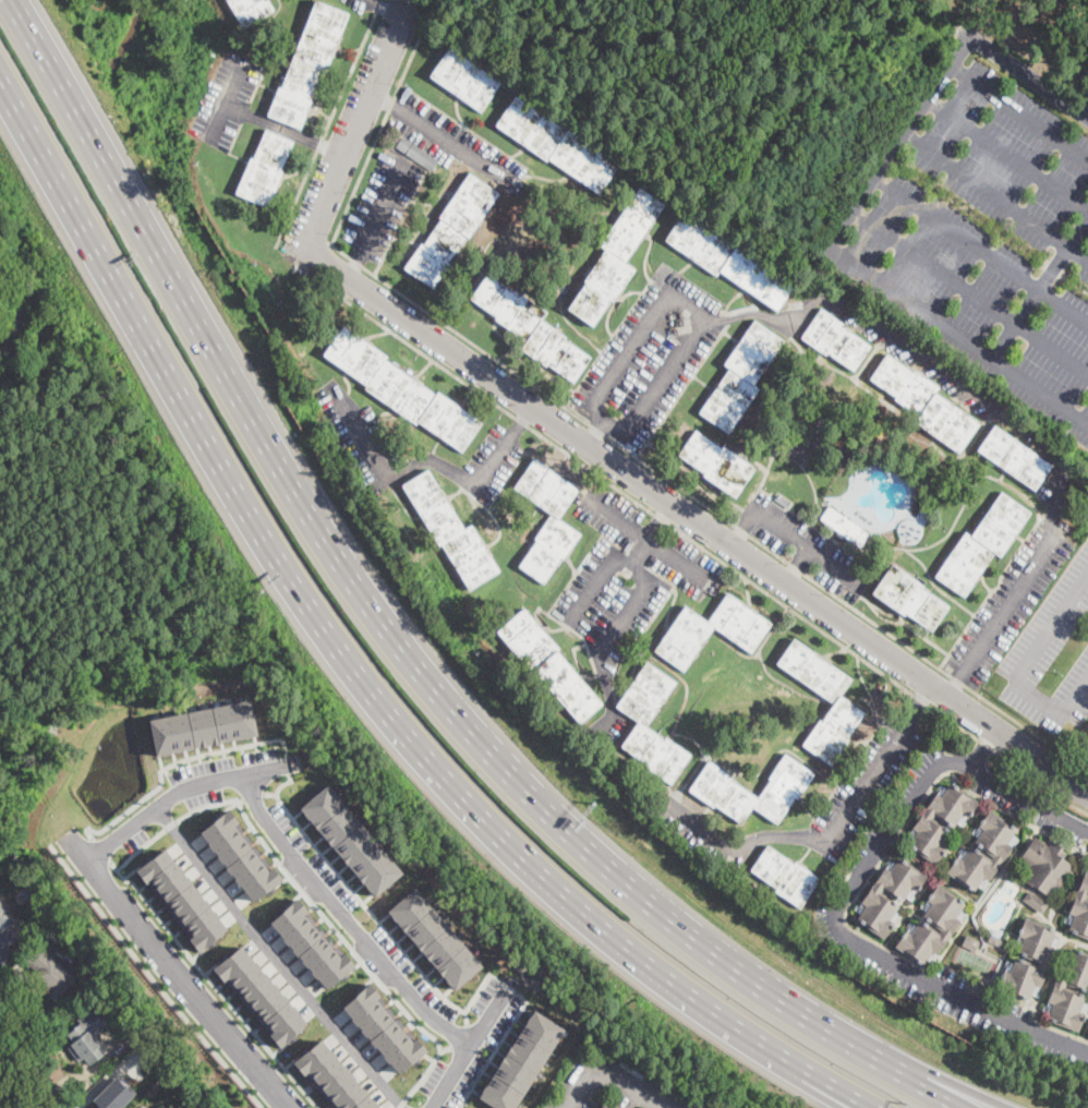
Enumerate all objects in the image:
road: (368, 1)
parking lot: (358, 3)
building: (250, 10)
road: (387, 10)
building: (307, 64)
building: (464, 79)
road: (382, 98)
parking lot: (228, 100)
road: (226, 108)
road: (328, 121)
road: (359, 123)
parking lot: (341, 130)
road: (286, 131)
parking lot: (450, 138)
road: (375, 140)
road: (449, 141)
building: (557, 145)
building: (416, 153)
building: (264, 168)
parking lot: (384, 206)
road: (379, 212)
building: (451, 230)
parking lot: (988, 248)
building: (616, 256)
building: (727, 260)
road: (325, 262)
road: (353, 270)
road: (130, 309)
road: (706, 315)
building: (530, 327)
building: (834, 339)
parking lot: (650, 357)
building: (740, 376)
parking lot: (943, 377)
building: (400, 389)
building: (924, 402)
road: (999, 410)
road: (525, 415)
road: (596, 432)
road: (361, 433)
parking lot: (360, 435)
road: (497, 457)
building: (1014, 458)
parking lot: (493, 460)
road: (434, 461)
building: (716, 463)
building: (783, 501)
road: (708, 506)
road: (697, 521)
building: (555, 527)
building: (844, 527)
road: (742, 528)
building: (450, 531)
road: (649, 533)
road: (646, 540)
building: (981, 543)
parking lot: (809, 544)
road: (808, 545)
road: (701, 546)
road: (796, 563)
road: (633, 565)
parking lot: (627, 585)
parking lot: (1017, 586)
building: (909, 598)
road: (580, 604)
road: (395, 638)
building: (684, 638)
road: (604, 648)
parking lot: (1052, 660)
building: (548, 664)
road: (1023, 669)
road: (954, 689)
building: (836, 699)
road: (918, 700)
building: (641, 724)
building: (204, 726)
road: (982, 747)
road: (172, 763)
road: (1074, 763)
road: (289, 764)
parking lot: (223, 774)
building: (715, 785)
road: (1016, 792)
road: (174, 793)
road: (270, 793)
road: (253, 795)
road: (241, 799)
parking lot: (851, 803)
parking lot: (1029, 805)
building: (940, 820)
road: (171, 823)
road: (810, 838)
building: (351, 840)
parking lot: (873, 845)
road: (99, 848)
building: (996, 851)
building: (240, 856)
road: (525, 863)
building: (1044, 866)
building: (784, 876)
building: (888, 894)
road: (358, 895)
building: (182, 896)
building: (1035, 902)
building: (1080, 910)
road: (343, 916)
building: (55, 917)
parking lot: (356, 923)
building: (945, 926)
road: (334, 928)
building: (995, 930)
building: (5, 934)
building: (433, 937)
building: (994, 941)
building: (311, 943)
building: (970, 943)
road: (870, 950)
building: (1042, 959)
road: (277, 960)
road: (170, 966)
building: (50, 969)
road: (152, 978)
road: (13, 983)
road: (213, 984)
building: (974, 986)
building: (1068, 991)
building: (261, 992)
building: (919, 1005)
road: (521, 1009)
building: (929, 1011)
building: (963, 1015)
building: (382, 1028)
road: (459, 1036)
building: (85, 1038)
parking lot: (471, 1047)
road: (466, 1049)
building: (521, 1061)
road: (32, 1064)
road: (423, 1075)
building: (333, 1077)
road: (606, 1077)
road: (940, 1082)
road: (99, 1084)
parking lot: (612, 1086)
building: (113, 1094)
building: (600, 1106)
building: (605, 1106)

